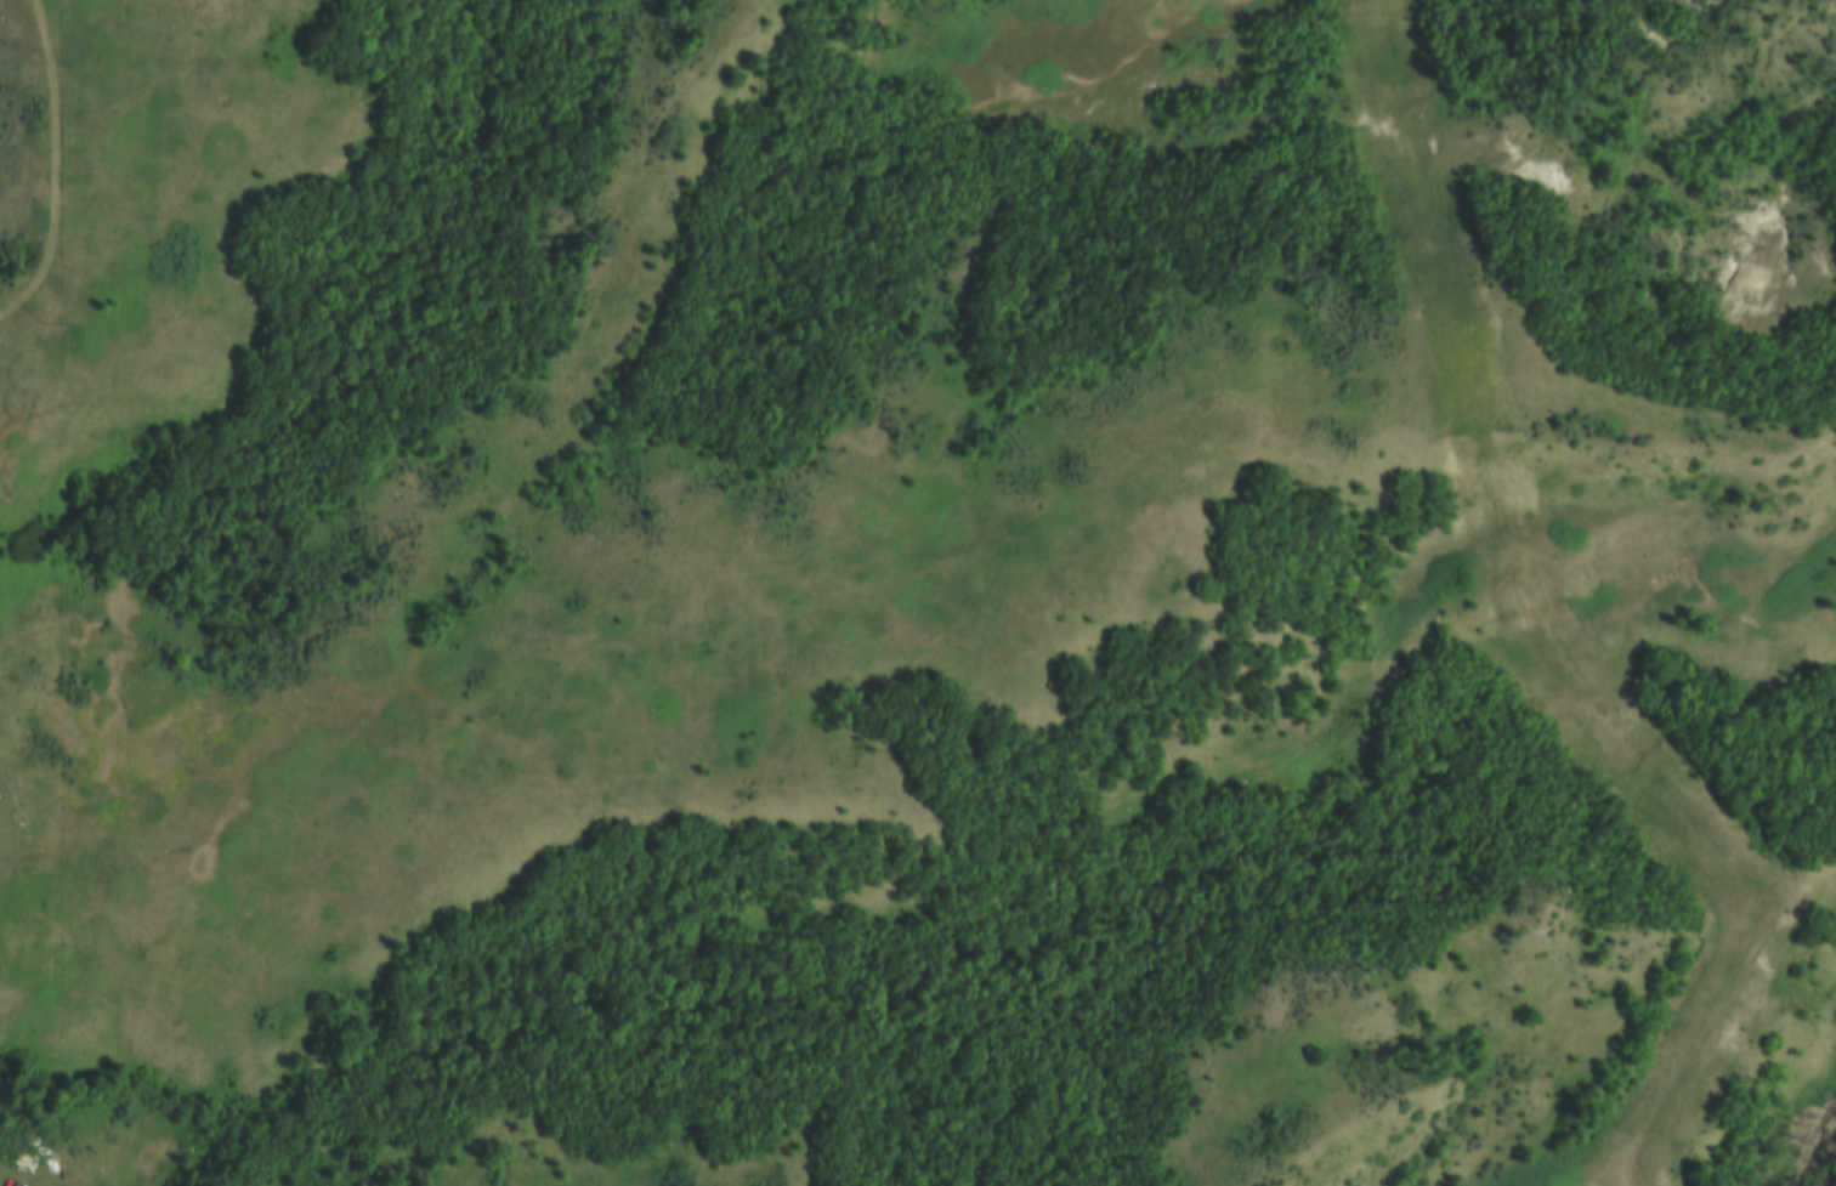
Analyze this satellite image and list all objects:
road: (59, 166)

